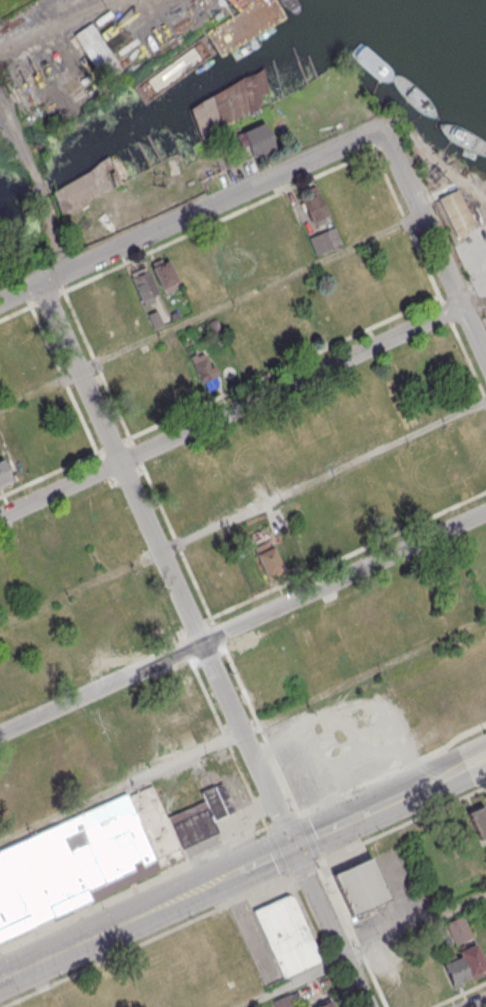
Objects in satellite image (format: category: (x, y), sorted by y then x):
river: (465, 11)
road: (44, 27)
building: (97, 44)
building: (220, 108)
building: (255, 139)
road: (21, 145)
building: (82, 188)
building: (313, 207)
building: (456, 212)
road: (183, 218)
building: (257, 232)
road: (53, 235)
road: (432, 236)
building: (324, 241)
building: (239, 243)
building: (164, 275)
building: (143, 284)
road: (211, 310)
building: (154, 318)
building: (214, 326)
building: (204, 369)
road: (230, 411)
building: (4, 475)
building: (186, 480)
road: (243, 511)
building: (60, 533)
building: (268, 561)
building: (399, 595)
road: (242, 622)
road: (201, 645)
road: (393, 771)
road: (440, 779)
road: (121, 786)
building: (201, 815)
road: (284, 820)
road: (345, 821)
building: (477, 821)
building: (120, 840)
traffic signals: (295, 844)
road: (265, 858)
building: (37, 880)
building: (358, 885)
road: (135, 887)
road: (118, 925)
building: (458, 929)
building: (286, 934)
road: (357, 948)
building: (472, 959)
building: (455, 970)
building: (283, 1002)
road: (478, 1003)
building: (324, 1004)

